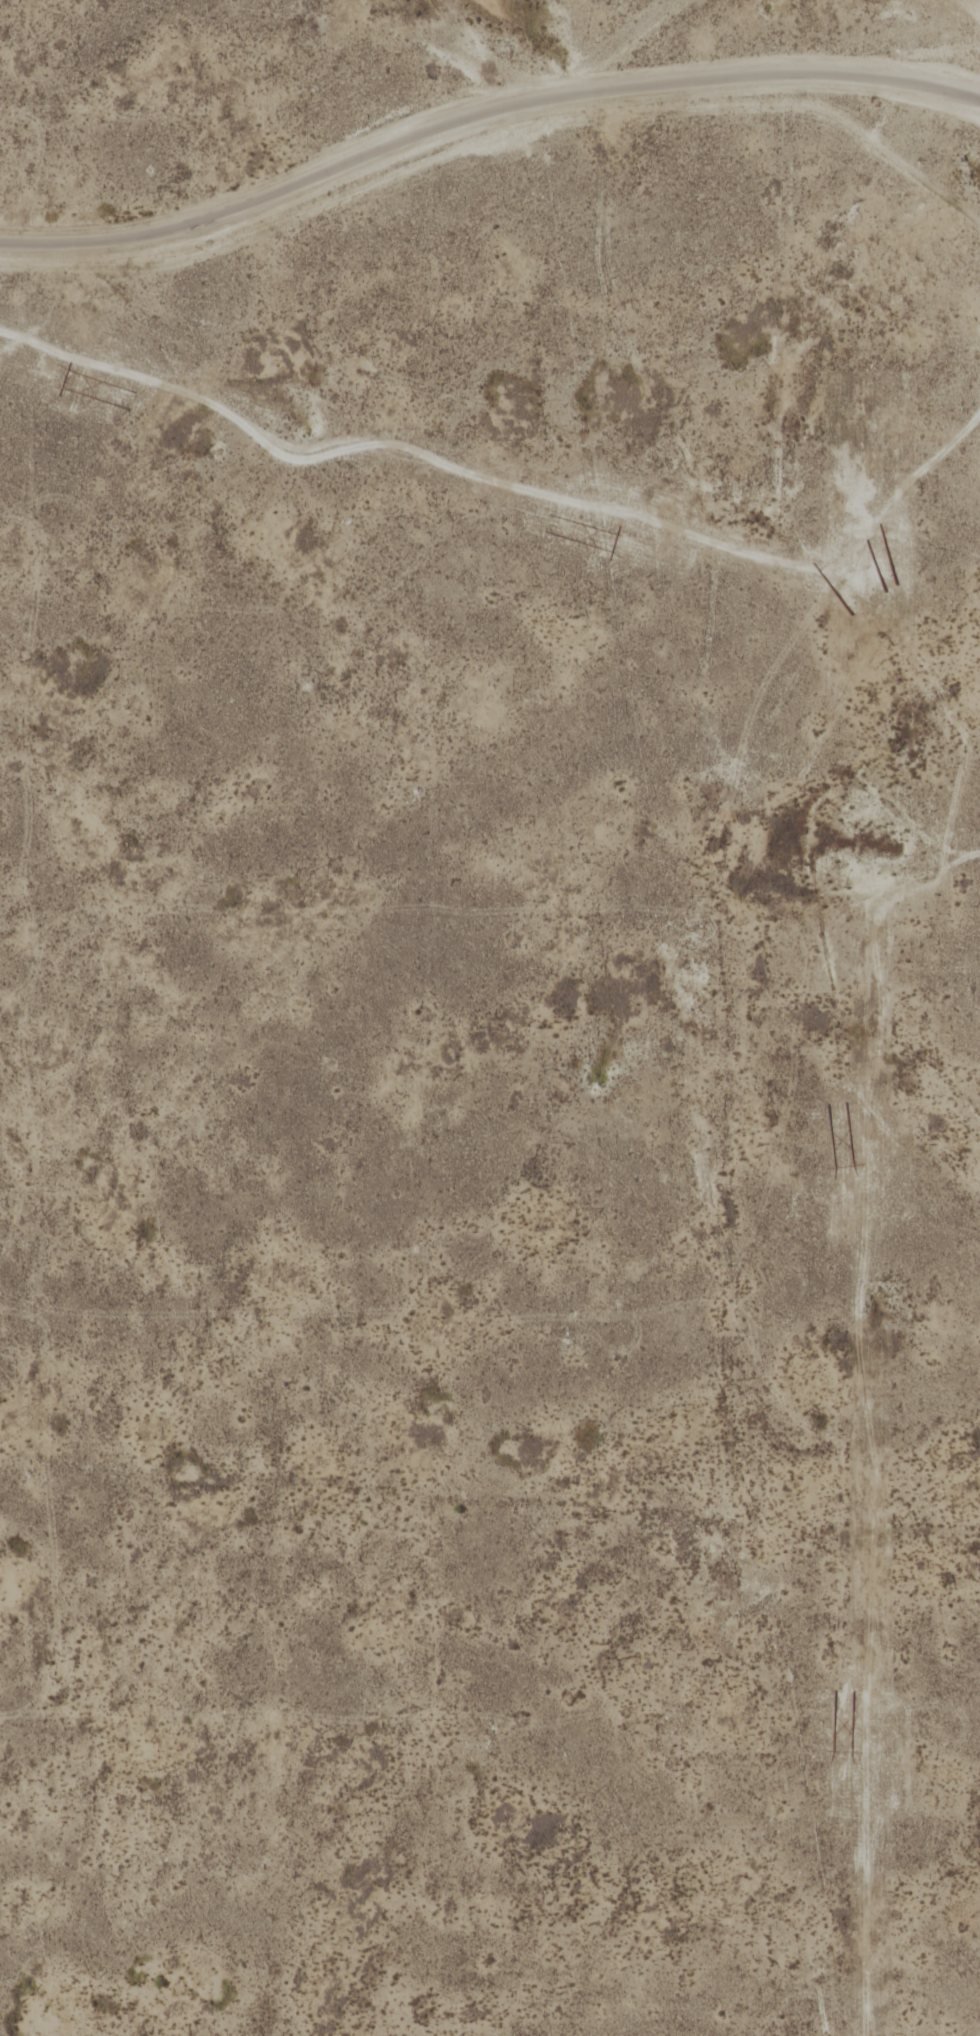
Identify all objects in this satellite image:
road: (481, 111)

